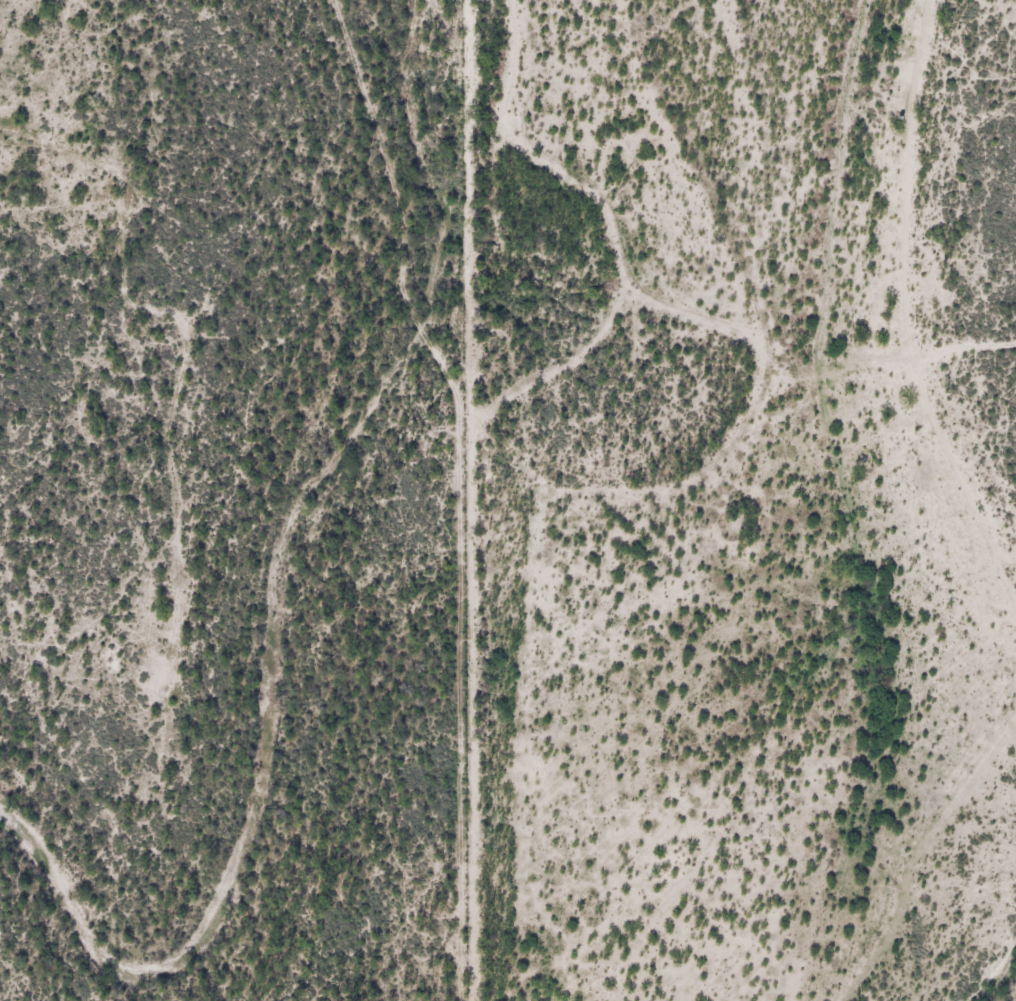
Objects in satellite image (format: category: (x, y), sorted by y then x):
road: (916, 294)
road: (1011, 753)
road: (921, 858)

